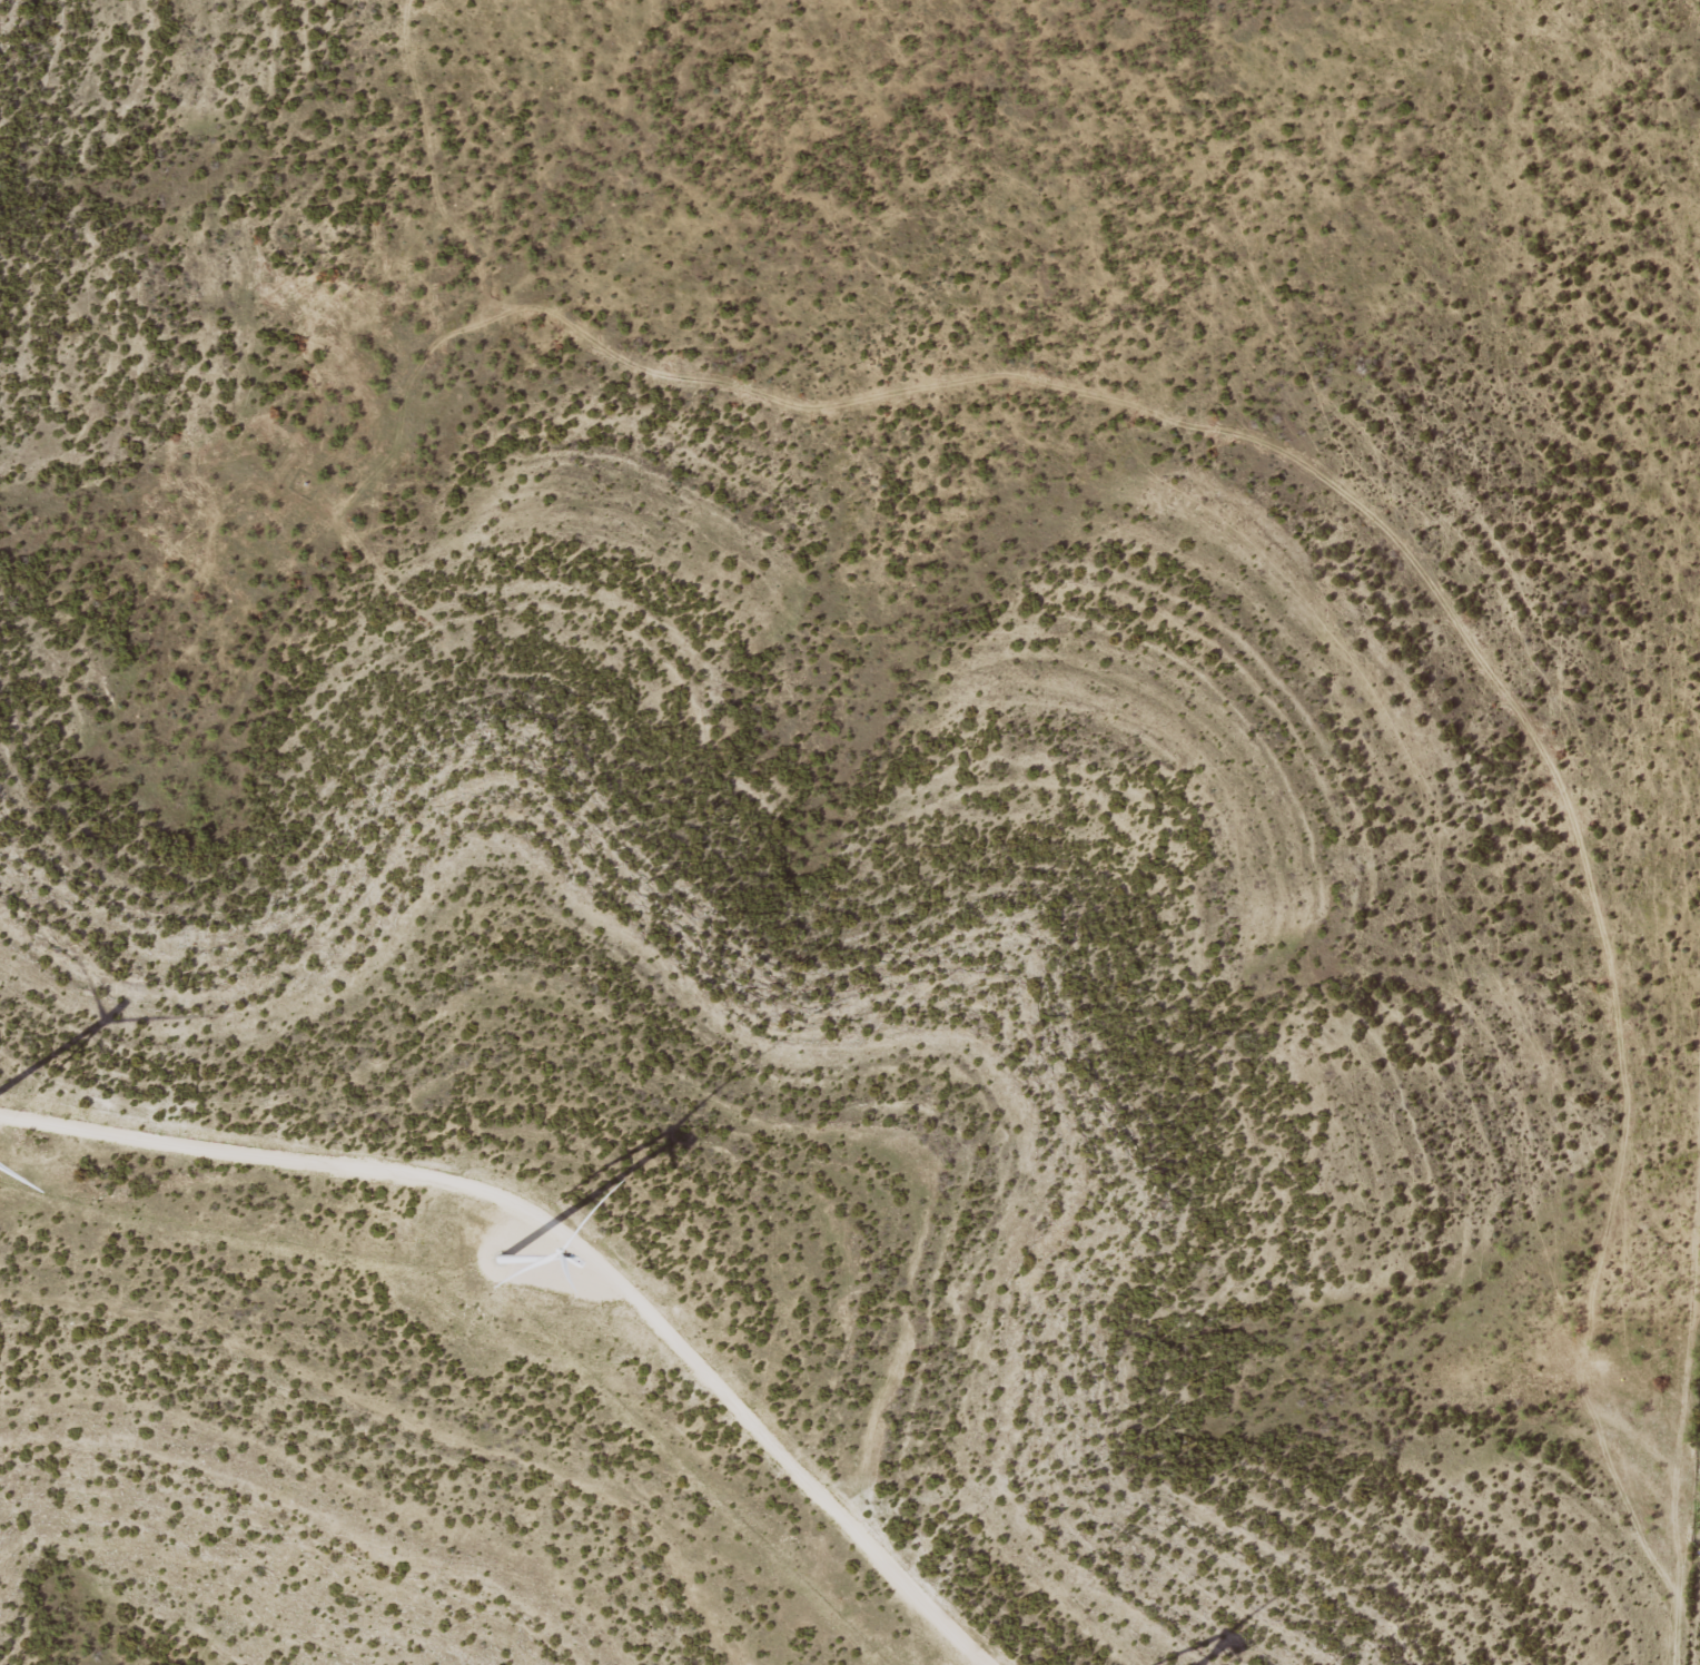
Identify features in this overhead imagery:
road: (1055, 858)
wind turbine: (500, 1260)

